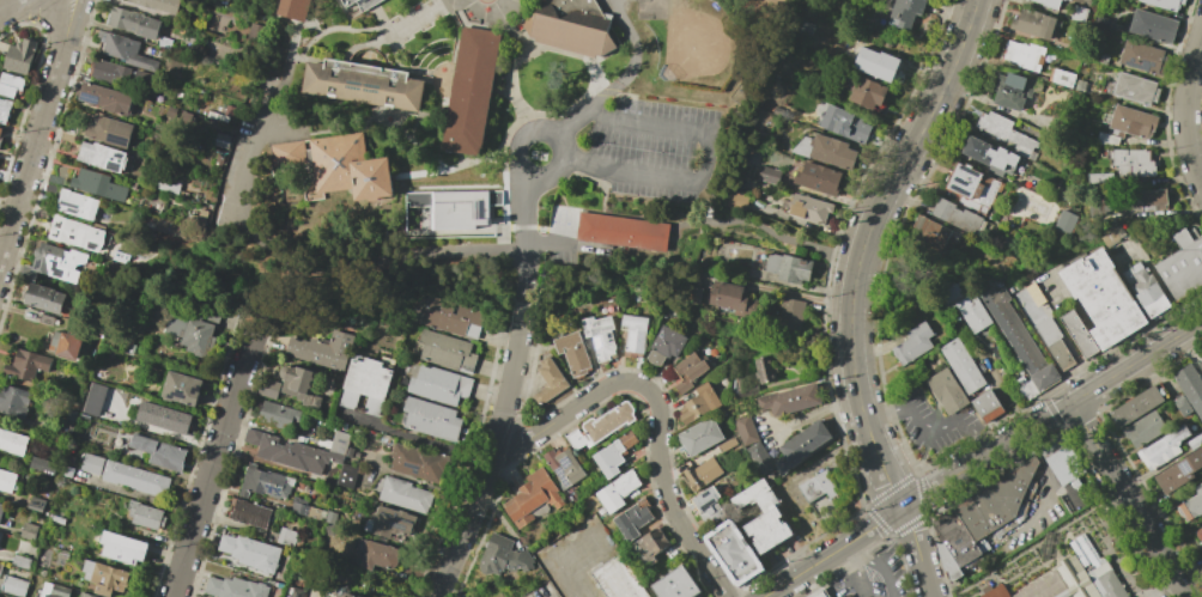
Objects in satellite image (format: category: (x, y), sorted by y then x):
building: (1067, 0)
road: (7, 4)
building: (363, 4)
building: (1048, 4)
building: (1164, 4)
building: (158, 5)
building: (293, 8)
building: (904, 12)
building: (1077, 13)
road: (60, 17)
road: (75, 18)
building: (133, 23)
building: (1032, 24)
building: (569, 26)
building: (1152, 26)
building: (255, 33)
building: (164, 42)
building: (125, 51)
building: (1022, 55)
building: (20, 56)
building: (1141, 57)
building: (873, 62)
building: (105, 72)
building: (213, 77)
building: (1061, 78)
building: (363, 83)
road: (624, 83)
building: (11, 86)
building: (1135, 89)
building: (864, 91)
building: (1010, 91)
building: (471, 93)
rooftop solar panel: (89, 96)
building: (105, 98)
road: (1185, 105)
building: (5, 111)
building: (171, 112)
building: (213, 116)
building: (186, 117)
building: (223, 118)
building: (840, 121)
building: (1129, 122)
building: (0, 130)
building: (109, 130)
building: (1004, 133)
rooftop solar panel: (117, 136)
building: (67, 138)
building: (0, 139)
building: (223, 141)
road: (32, 146)
building: (196, 147)
parking lot: (654, 151)
building: (825, 151)
road: (560, 154)
building: (98, 156)
building: (989, 157)
building: (219, 162)
building: (1131, 162)
rooftop solar panel: (114, 165)
building: (334, 167)
road: (702, 170)
building: (767, 175)
building: (815, 177)
rooftop solar panel: (959, 178)
building: (55, 179)
building: (1099, 181)
building: (169, 184)
building: (97, 185)
building: (972, 185)
rooftop solar panel: (958, 188)
building: (51, 189)
building: (184, 194)
building: (196, 195)
building: (734, 200)
building: (1147, 201)
road: (880, 202)
building: (78, 205)
building: (807, 208)
rooftop solar panel: (71, 209)
building: (44, 214)
rooftop solar panel: (105, 217)
building: (454, 218)
building: (958, 218)
building: (151, 220)
building: (192, 220)
building: (1066, 221)
rooftop solar panel: (60, 225)
building: (175, 230)
building: (624, 232)
building: (74, 233)
rooftop solar panel: (71, 234)
building: (931, 234)
road: (522, 237)
road: (778, 237)
rooftop solar panel: (95, 244)
road: (546, 246)
building: (62, 262)
building: (1182, 266)
building: (788, 267)
road: (308, 272)
building: (1146, 290)
road: (779, 291)
building: (42, 298)
building: (730, 298)
building: (1101, 298)
building: (971, 312)
building: (31, 315)
building: (789, 315)
road: (518, 316)
building: (451, 318)
building: (47, 321)
building: (1048, 330)
building: (633, 331)
rooftop solar panel: (607, 333)
building: (192, 335)
building: (1079, 335)
building: (599, 336)
building: (1019, 340)
rooftop solar panel: (596, 341)
rooftop solar panel: (608, 341)
building: (96, 342)
building: (912, 343)
building: (664, 345)
building: (65, 346)
building: (327, 347)
building: (128, 349)
building: (448, 352)
building: (573, 353)
building: (91, 354)
building: (1061, 354)
building: (26, 365)
building: (1200, 365)
building: (963, 366)
building: (763, 370)
building: (687, 371)
building: (550, 382)
building: (369, 384)
building: (441, 384)
building: (300, 386)
rooftop solar panel: (195, 388)
building: (268, 388)
building: (1026, 388)
building: (182, 389)
building: (1189, 389)
rooftop solar panel: (178, 391)
building: (947, 391)
building: (745, 392)
building: (93, 398)
building: (789, 400)
building: (13, 401)
building: (698, 403)
building: (1180, 406)
building: (1135, 407)
building: (987, 408)
road: (660, 412)
building: (71, 415)
road: (1051, 415)
building: (278, 416)
building: (164, 418)
building: (431, 420)
parking lot: (930, 424)
building: (599, 425)
road: (927, 427)
building: (745, 430)
building: (1142, 430)
road: (415, 437)
building: (698, 437)
building: (1194, 440)
building: (13, 443)
building: (340, 444)
building: (726, 444)
building: (800, 445)
road: (925, 446)
building: (1161, 449)
building: (350, 452)
building: (160, 453)
building: (295, 453)
building: (613, 453)
building: (759, 458)
building: (72, 459)
building: (1062, 461)
building: (420, 463)
building: (92, 464)
building: (43, 465)
road: (880, 465)
road: (486, 467)
building: (564, 467)
rooftop solar panel: (1185, 467)
road: (212, 469)
rooftop solar panel: (559, 470)
building: (1178, 471)
building: (68, 473)
building: (700, 474)
building: (347, 476)
building: (135, 479)
building: (8, 481)
building: (266, 483)
building: (299, 486)
building: (818, 487)
rooftop solar panel: (271, 489)
building: (615, 491)
building: (405, 495)
building: (796, 495)
road: (1046, 495)
building: (533, 499)
road: (1129, 500)
building: (995, 501)
building: (1191, 504)
building: (37, 506)
building: (299, 506)
building: (706, 506)
building: (1, 510)
building: (250, 513)
building: (317, 514)
building: (145, 516)
building: (330, 517)
rooftop solar panel: (387, 517)
building: (761, 517)
building: (59, 519)
building: (631, 519)
rooftop solar panel: (400, 520)
building: (390, 523)
rooftop solar panel: (394, 528)
building: (329, 530)
building: (29, 531)
building: (1198, 534)
building: (286, 536)
building: (954, 537)
building: (648, 547)
building: (122, 548)
building: (1083, 550)
road: (917, 552)
building: (250, 553)
building: (734, 553)
road: (831, 553)
building: (67, 555)
building: (375, 555)
building: (503, 556)
parking lot: (577, 559)
building: (23, 562)
building: (947, 562)
road: (873, 566)
building: (0, 568)
road: (857, 569)
building: (105, 578)
parking lot: (874, 578)
building: (617, 579)
building: (674, 584)
building: (1110, 585)
building: (14, 586)
building: (235, 587)
building: (54, 590)
building: (296, 591)
building: (996, 592)
building: (85, 595)
building: (820, 595)
building: (286, 596)
building: (354, 596)

